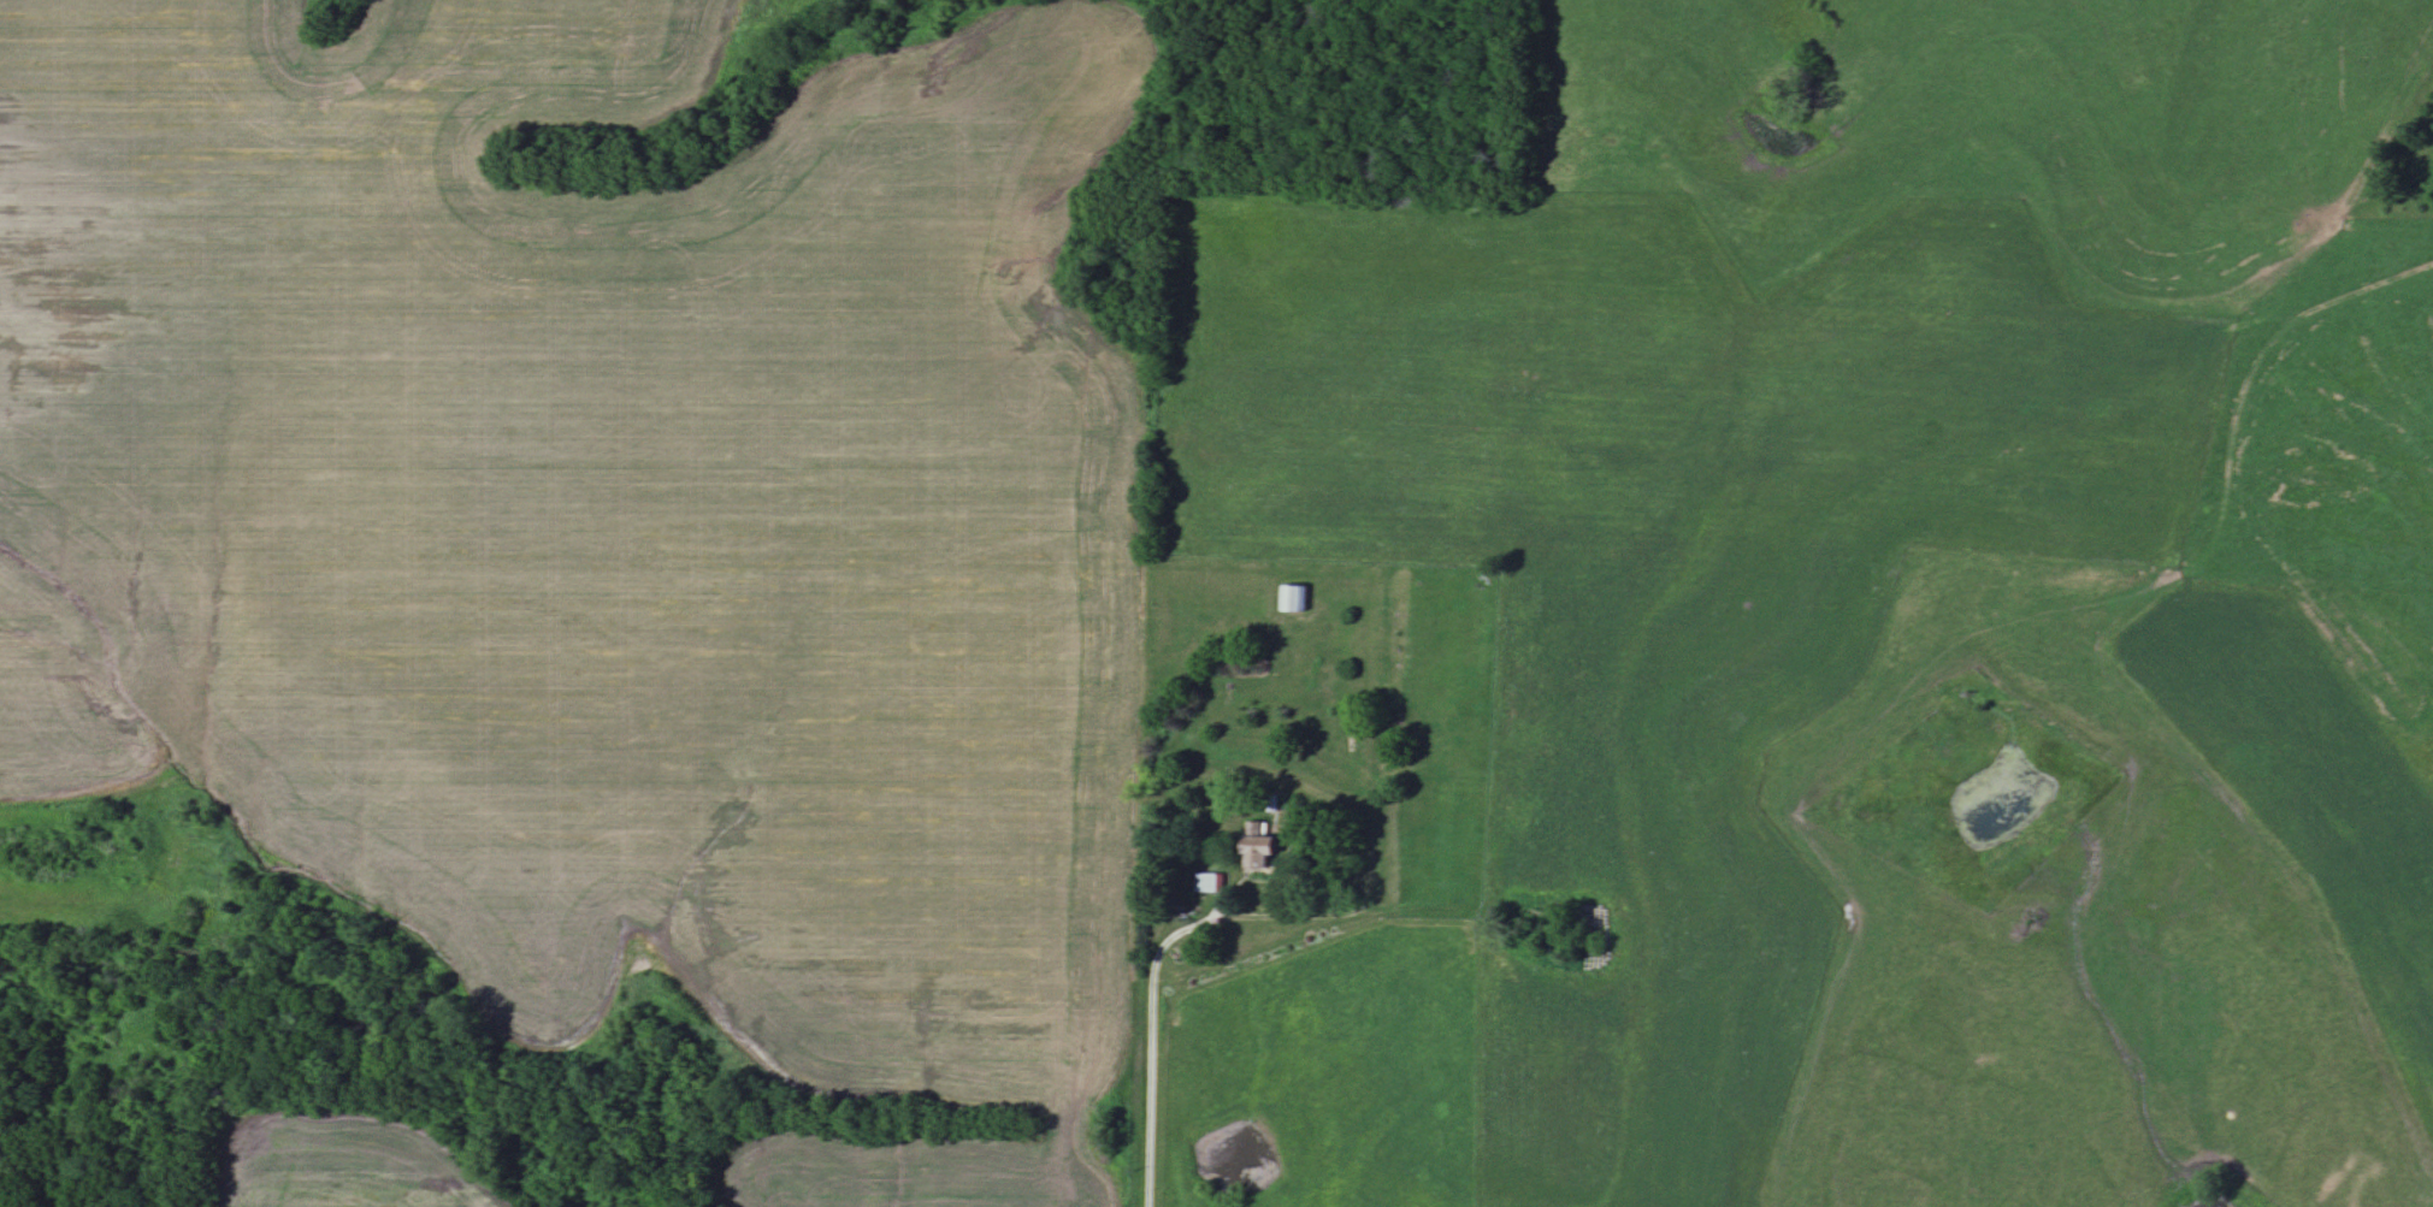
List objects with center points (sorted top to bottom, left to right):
crop: (609, 523)
building: (1295, 599)
building: (1260, 850)
building: (1210, 884)
road: (1153, 1022)
crop: (343, 1159)

